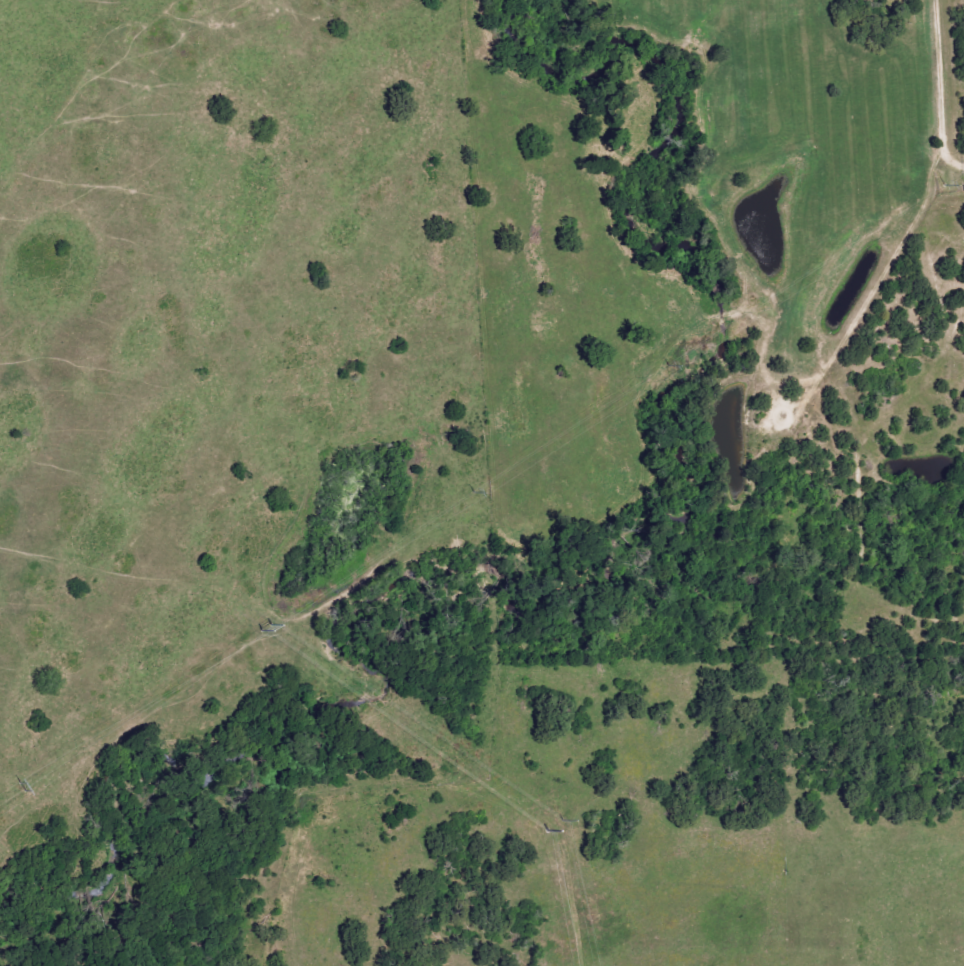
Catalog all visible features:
road: (940, 79)
power tower: (943, 186)
power tower: (668, 366)
power tower: (473, 493)
power tower: (272, 624)
power tower: (265, 629)
power tower: (20, 788)
power tower: (563, 819)
power tower: (548, 831)

